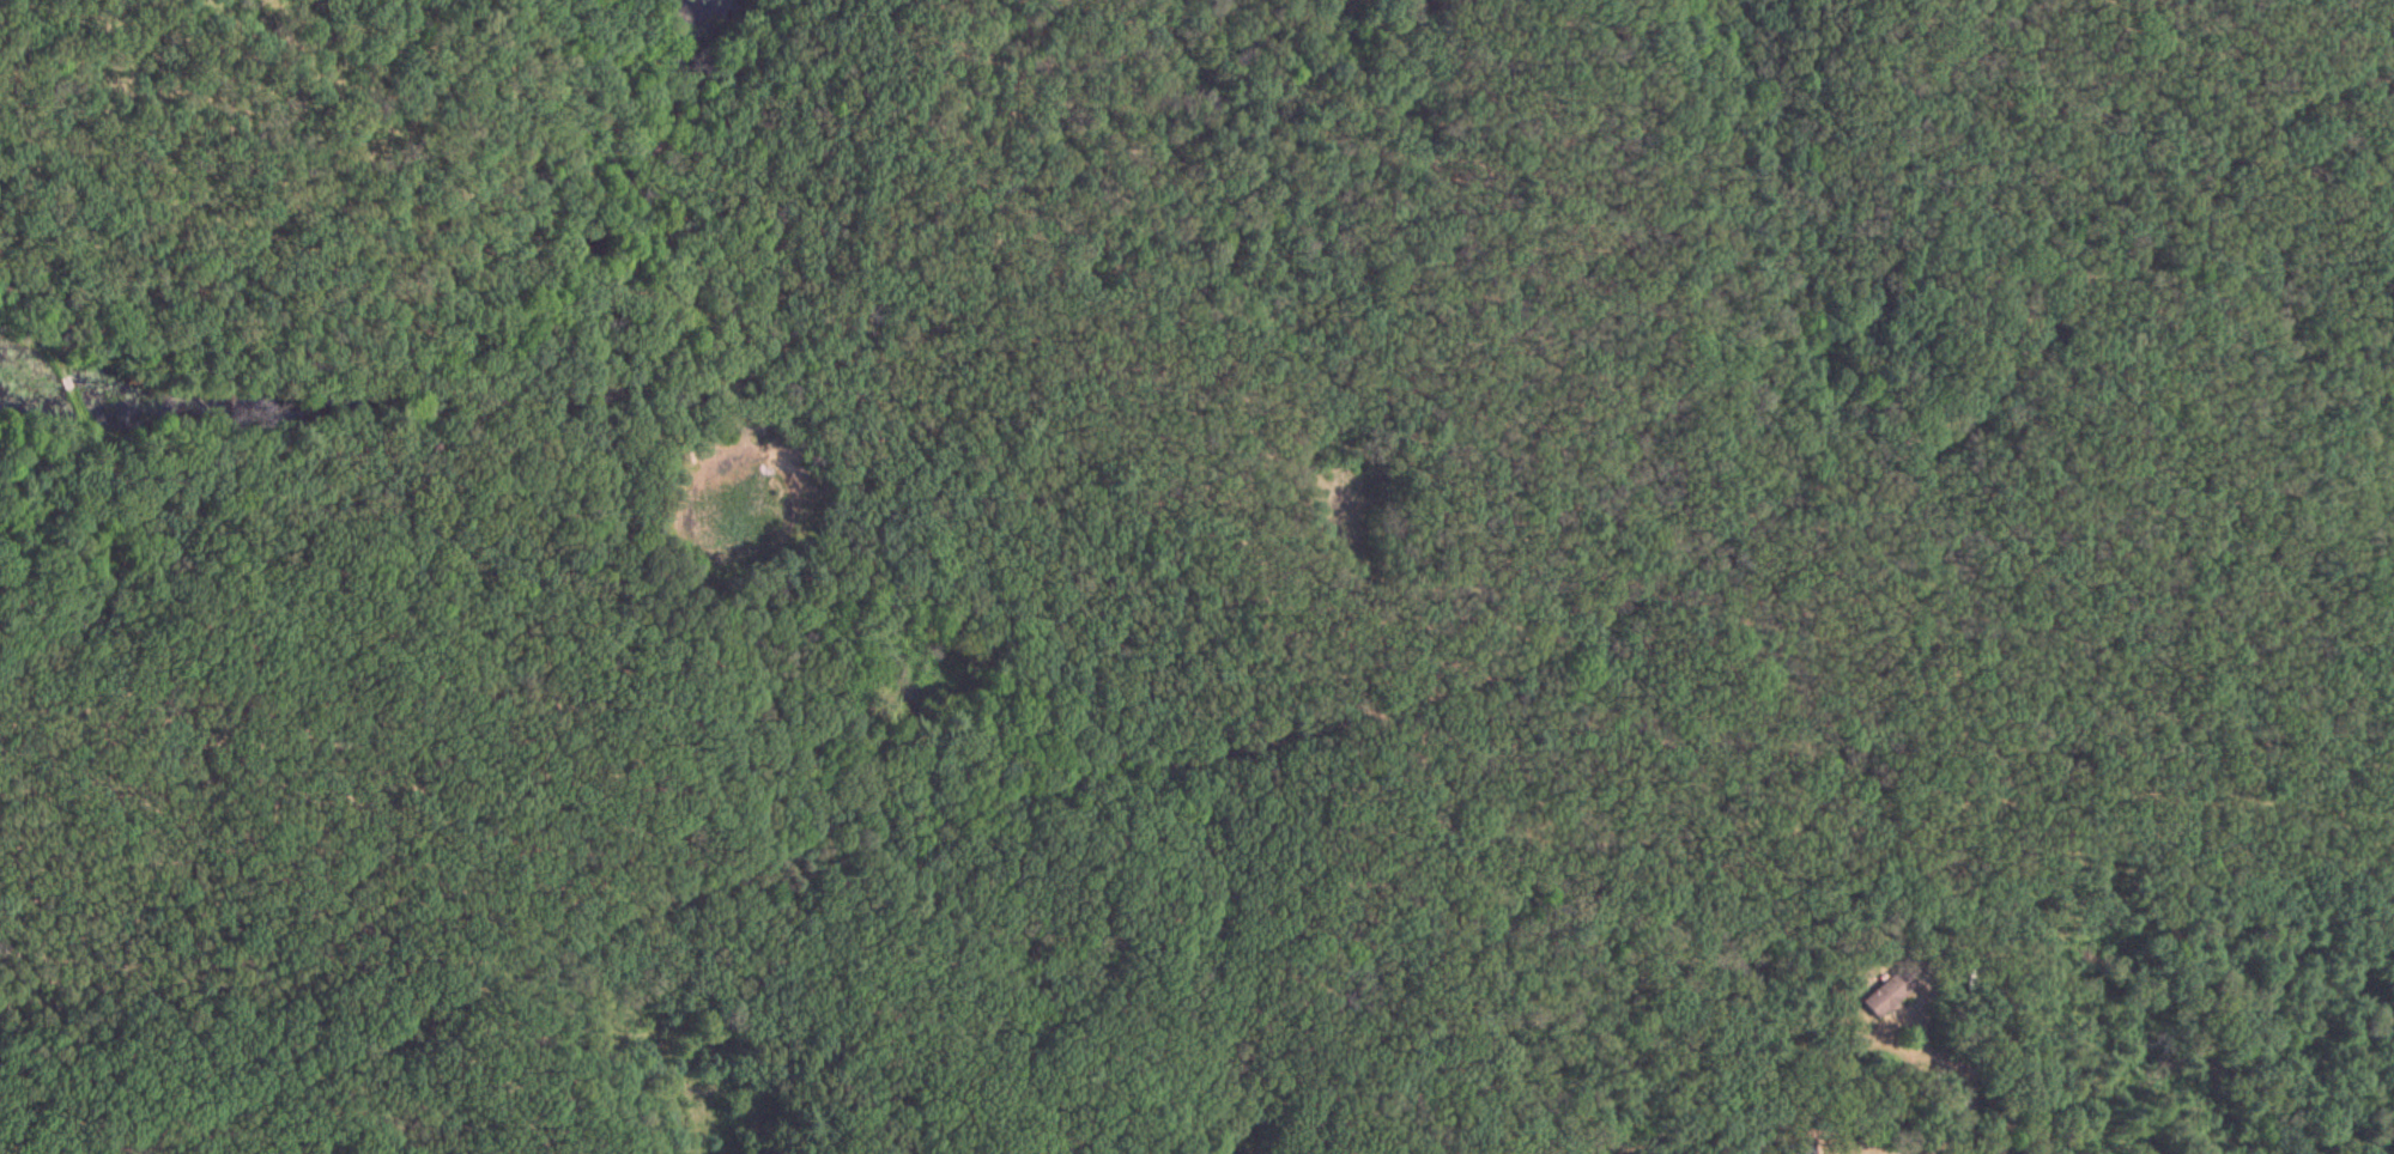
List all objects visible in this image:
building: (1889, 991)
road: (1947, 1071)

